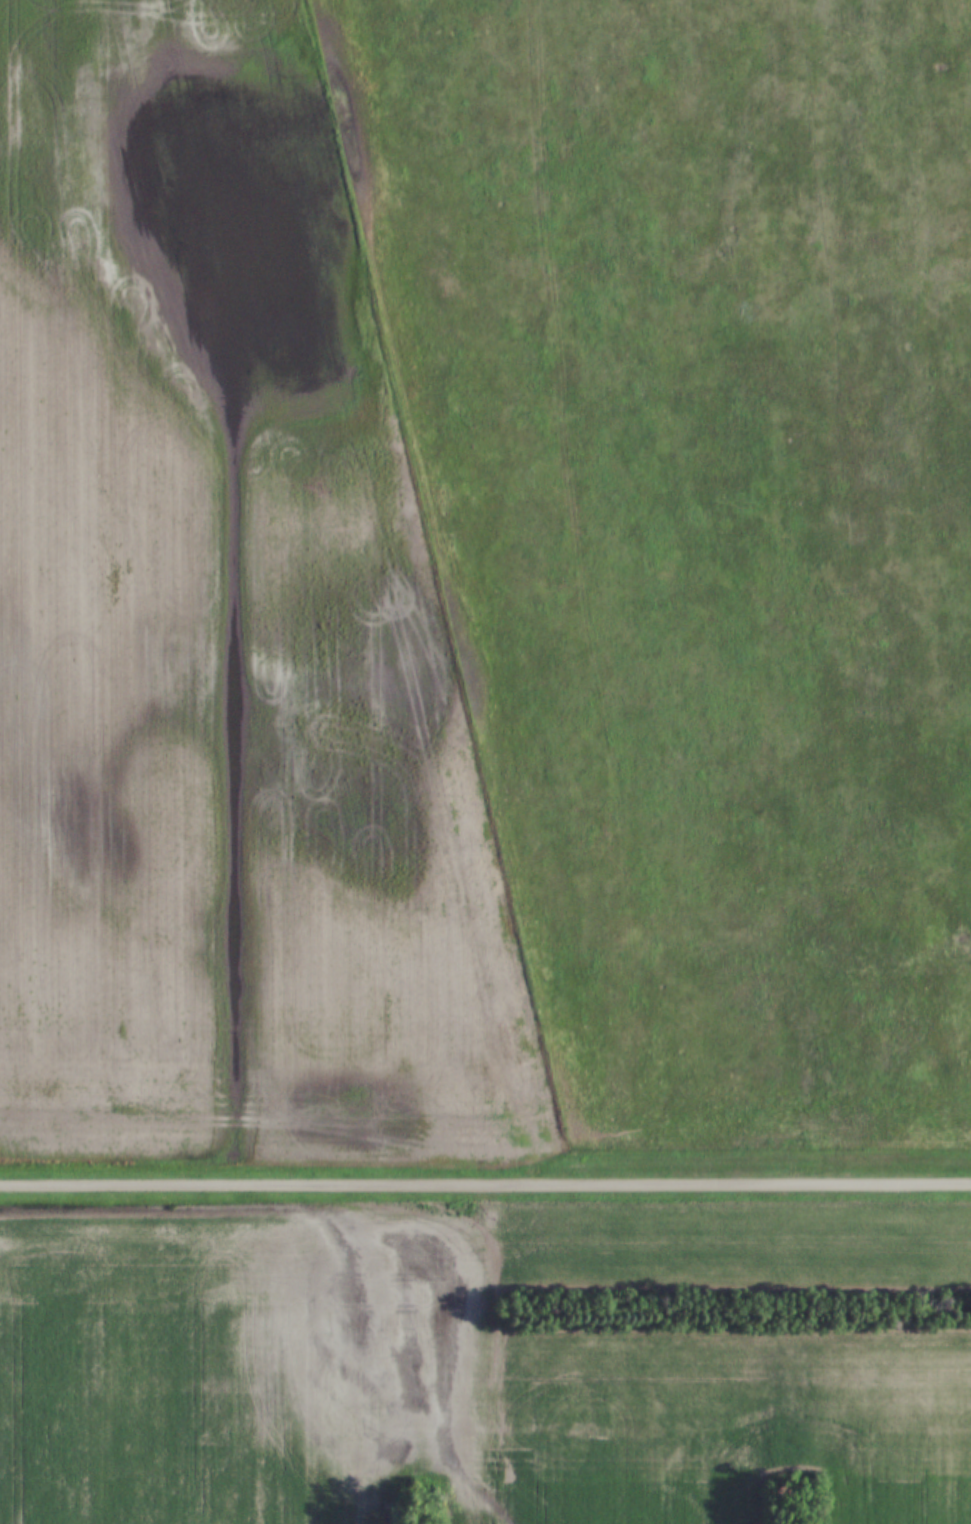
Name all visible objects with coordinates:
road: (485, 1183)

